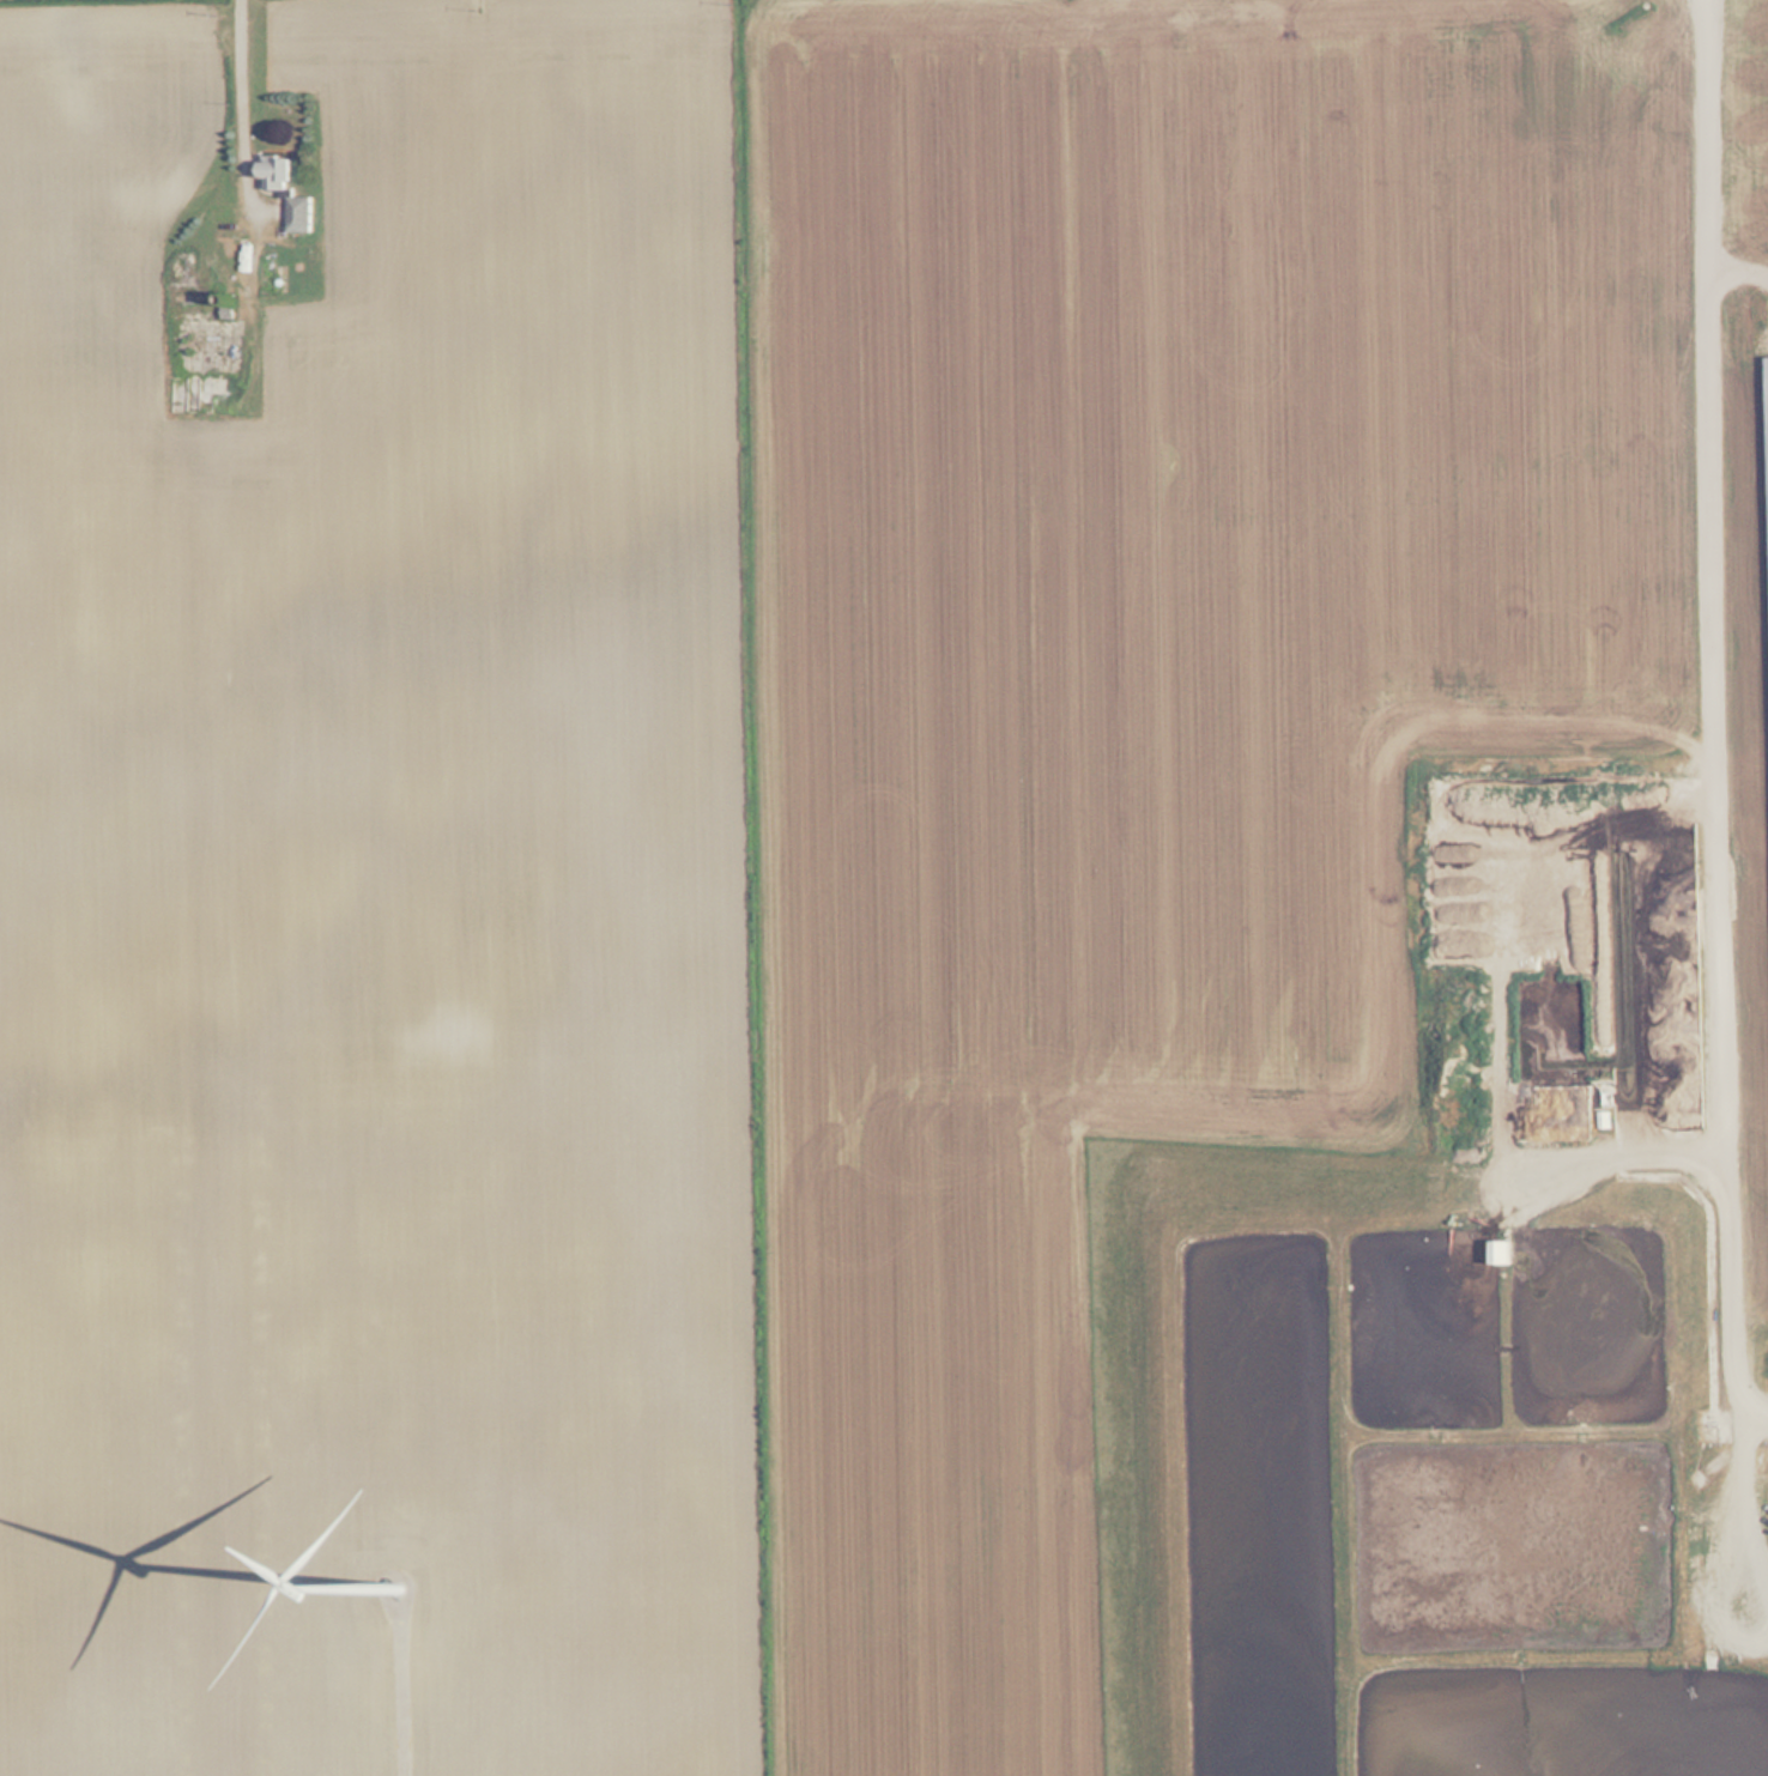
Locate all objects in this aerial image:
building: (278, 172)
building: (299, 213)
building: (268, 271)
building: (201, 394)
building: (1600, 1092)
wind turbine: (389, 1583)
road: (406, 1716)

